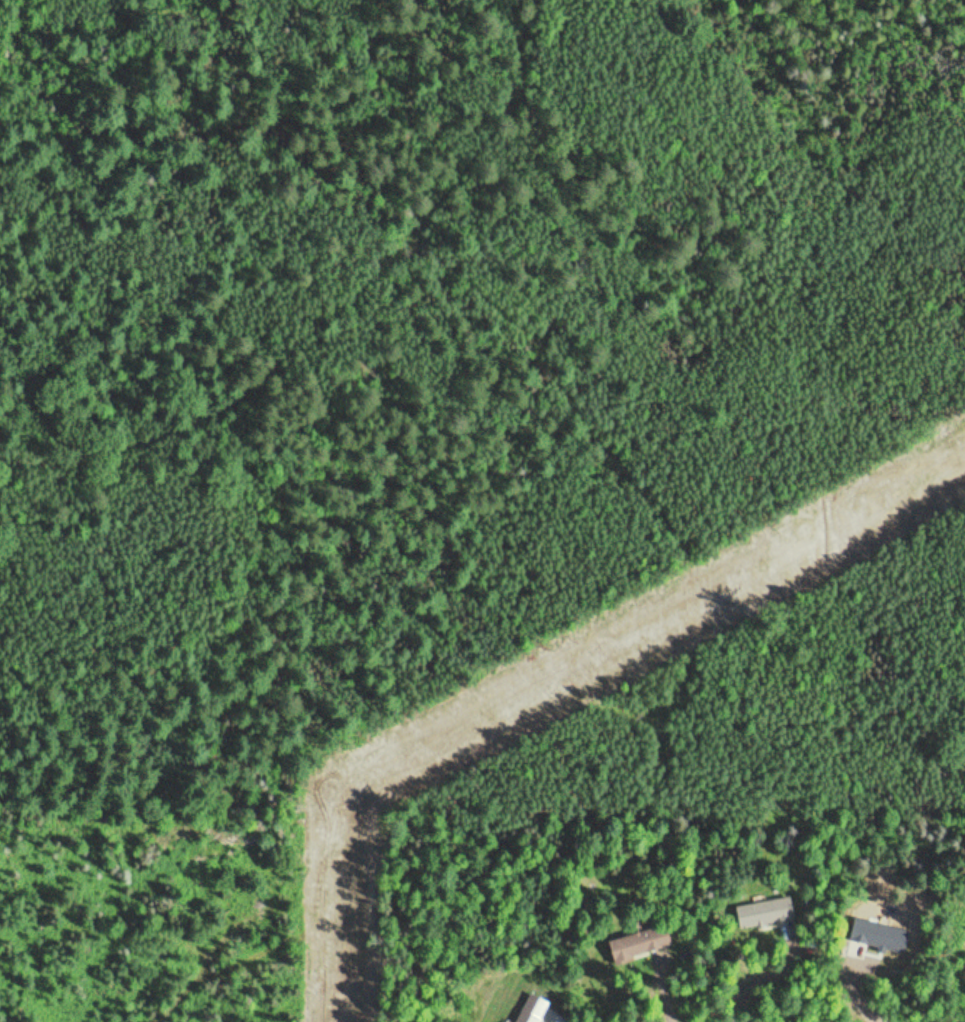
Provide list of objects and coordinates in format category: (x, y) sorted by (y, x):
building: (642, 943)

